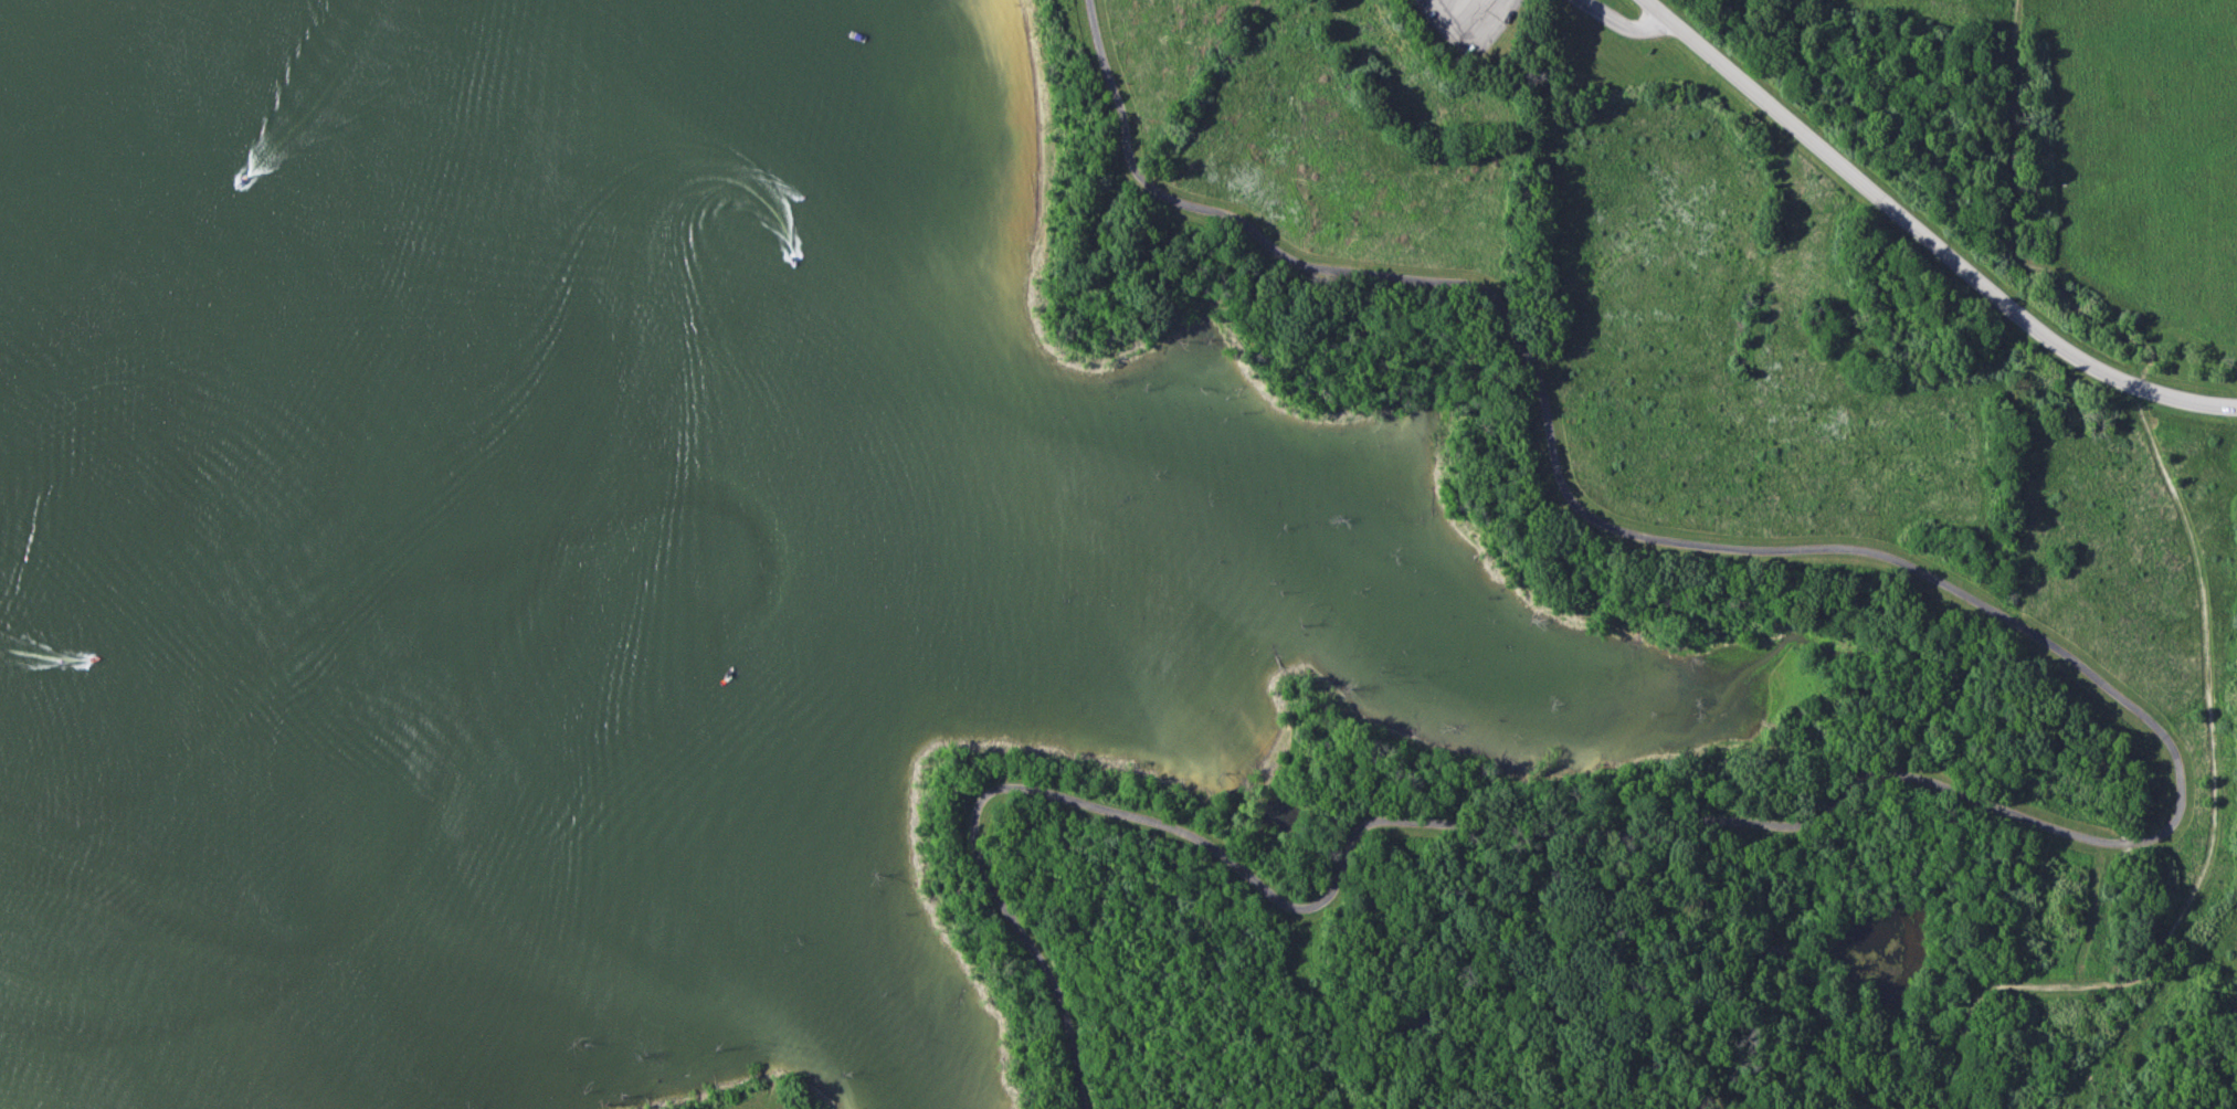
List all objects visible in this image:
road: (1658, 6)
parking lot: (1474, 20)
road: (1626, 23)
road: (2011, 220)
road: (1934, 239)
park: (1660, 549)
road: (2215, 764)
road: (2118, 838)
road: (1821, 1014)
park: (760, 1096)

